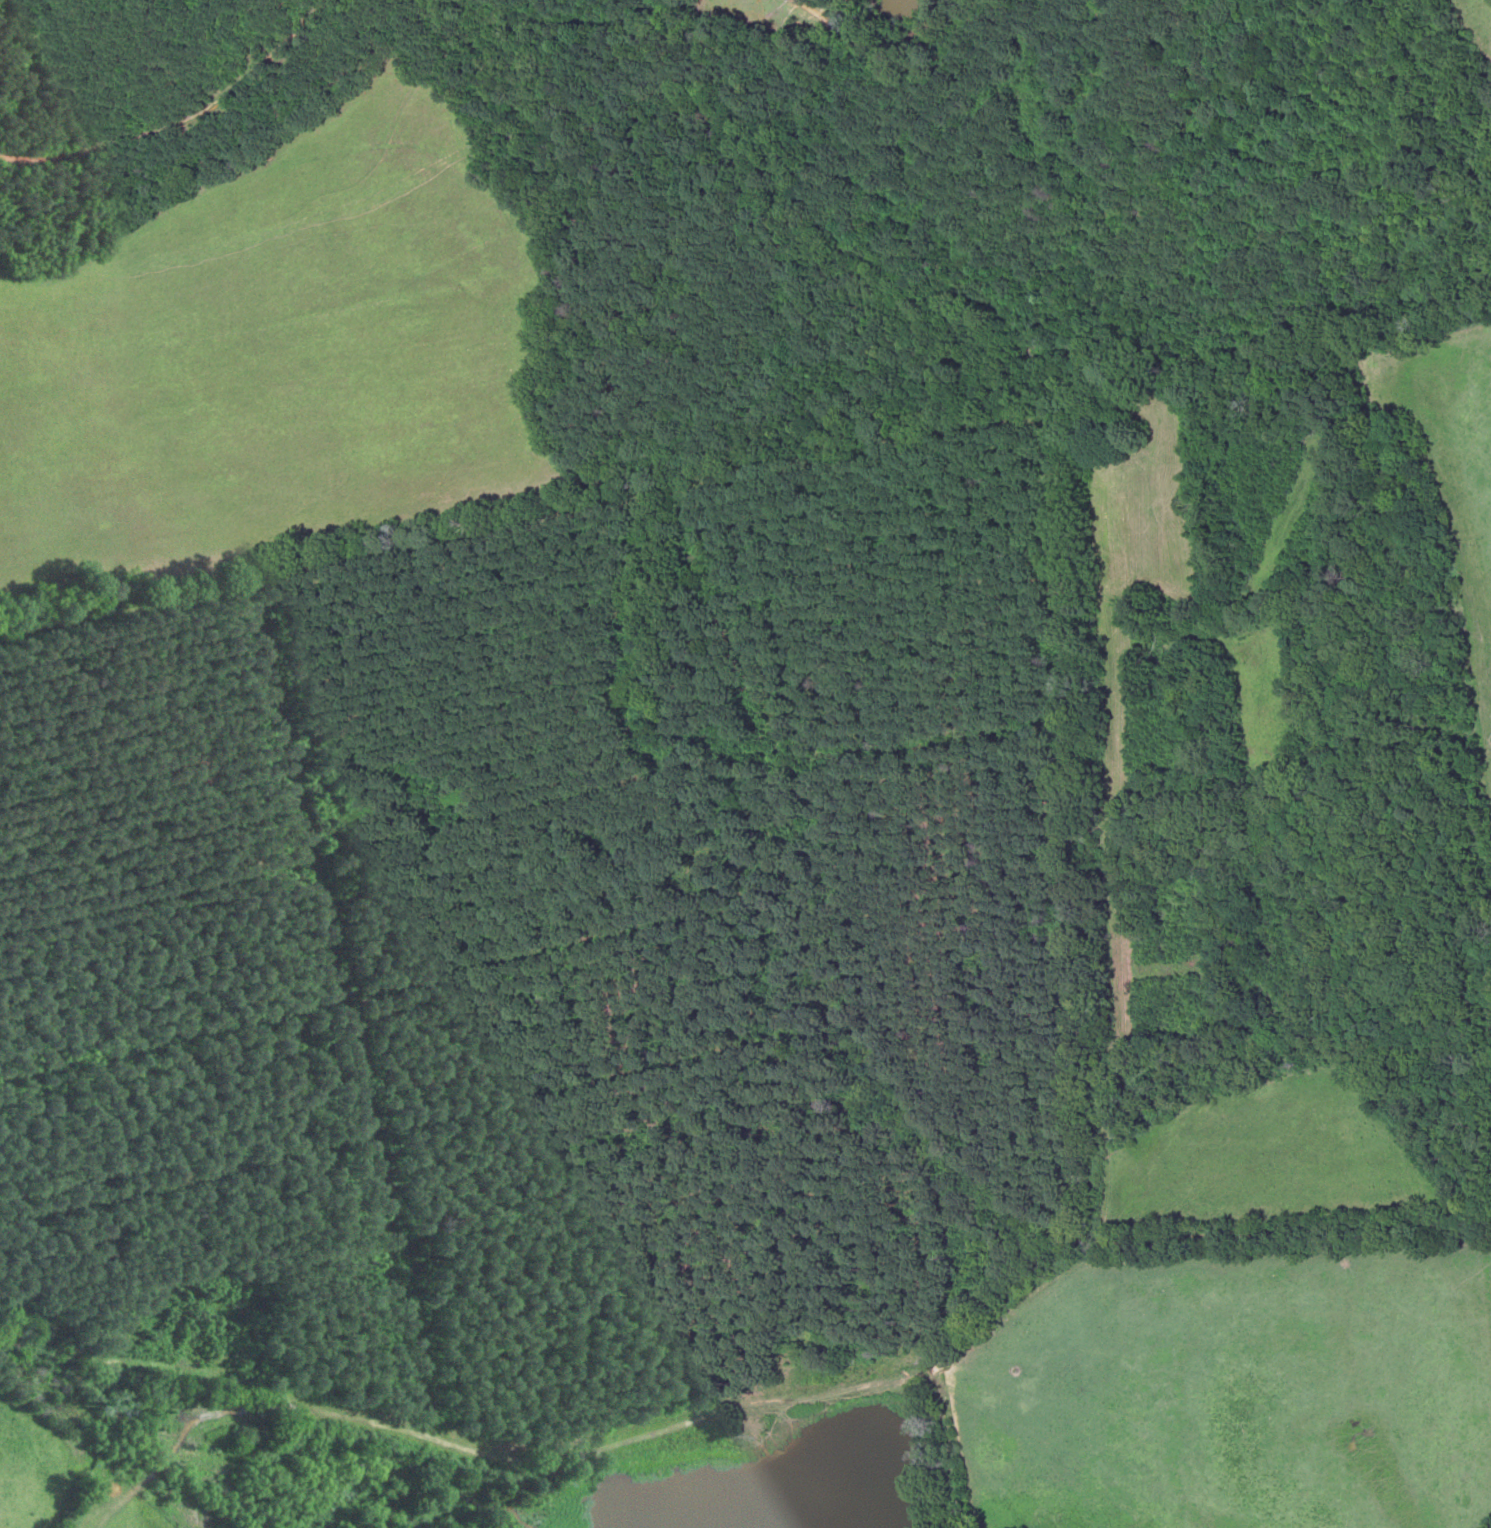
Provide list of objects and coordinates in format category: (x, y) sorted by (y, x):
road: (860, 53)
road: (207, 139)
road: (774, 1397)

